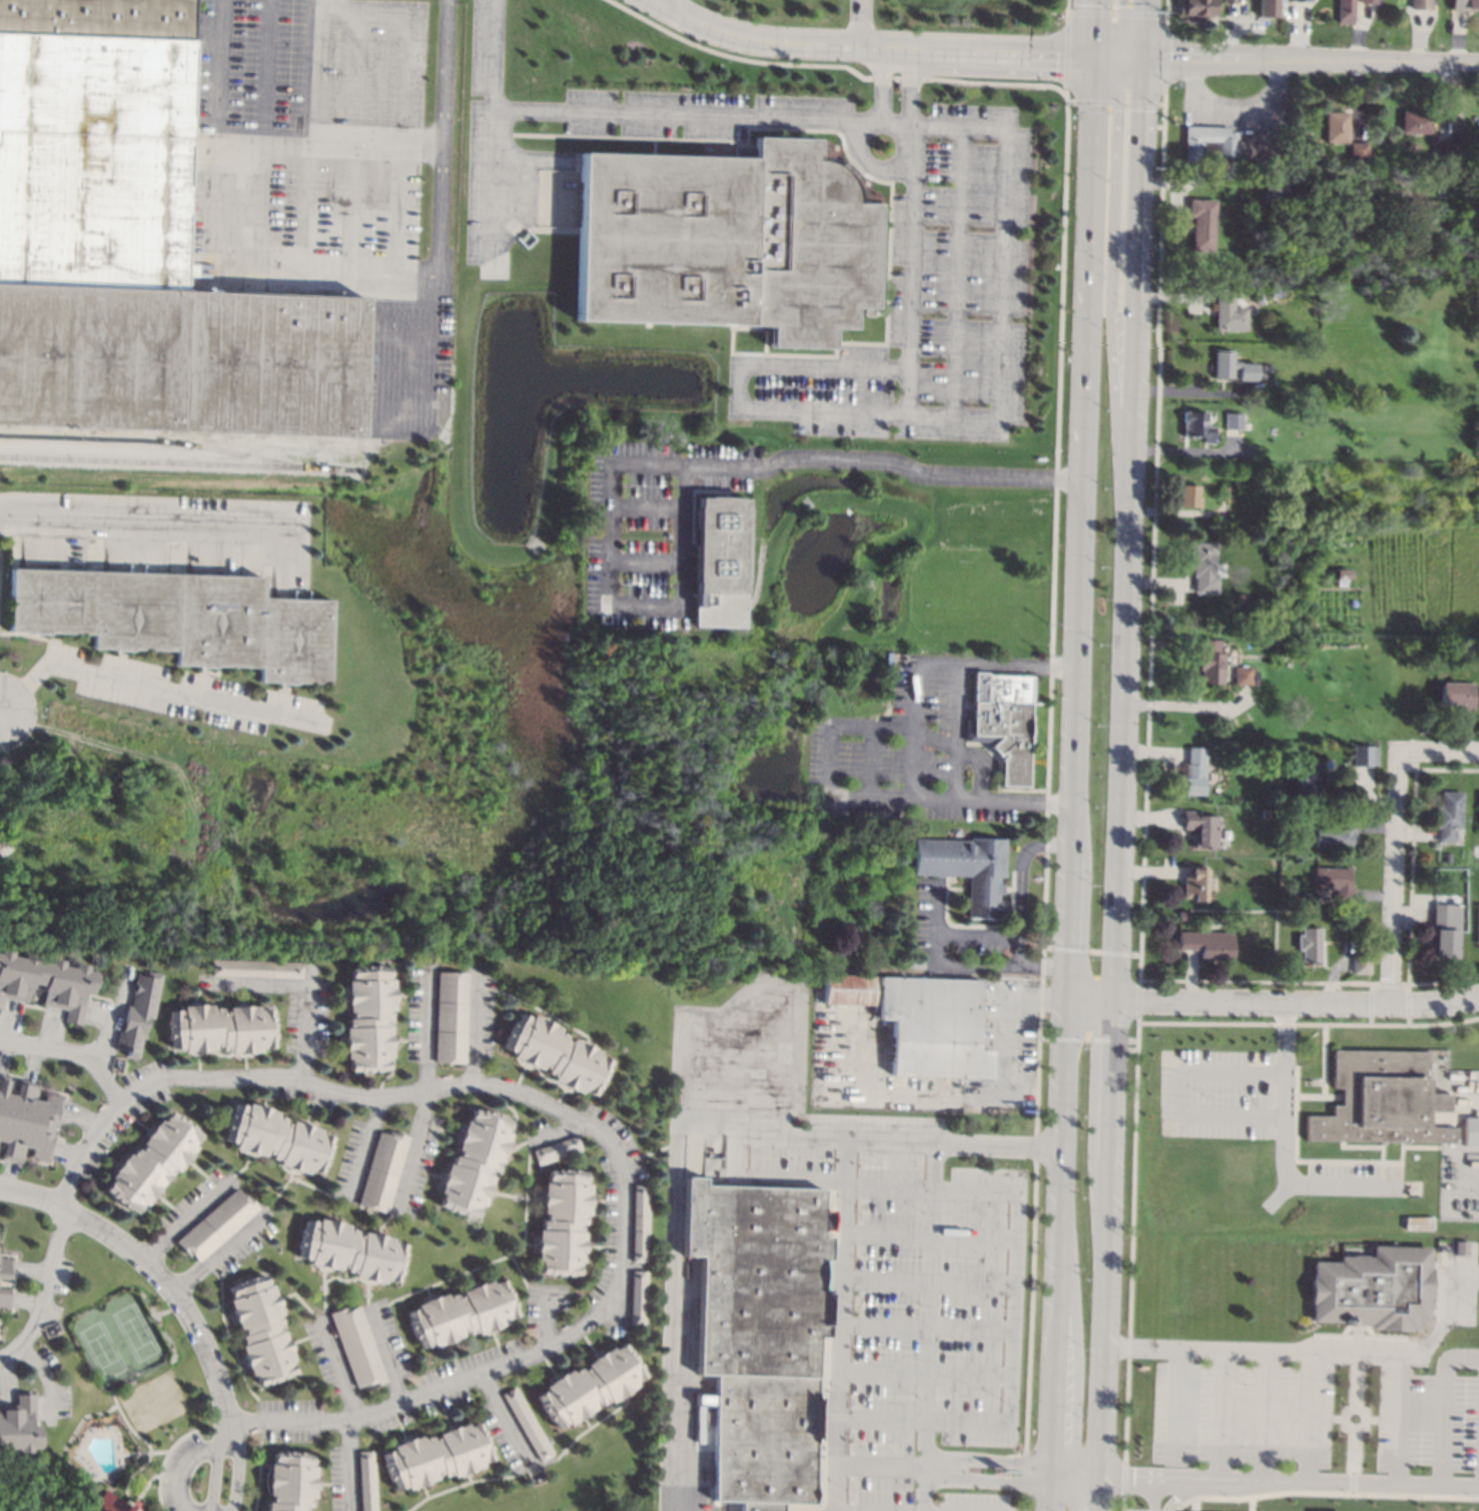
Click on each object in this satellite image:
building: (1301, 0)
road: (658, 1)
building: (1230, 1)
building: (1368, 1)
traffic signals: (1097, 4)
building: (1422, 4)
building: (1465, 5)
traffic signals: (1121, 6)
building: (1197, 7)
road: (1067, 8)
building: (1269, 8)
building: (1346, 11)
road: (1068, 12)
road: (1115, 13)
road: (1165, 18)
road: (862, 22)
road: (1096, 27)
road: (1144, 28)
road: (1126, 30)
road: (869, 45)
road: (1066, 52)
traffic signals: (1057, 53)
road: (1119, 55)
road: (735, 56)
traffic signals: (1169, 56)
road: (1164, 58)
road: (1311, 58)
road: (217, 70)
road: (442, 75)
road: (898, 78)
road: (997, 83)
road: (883, 85)
road: (914, 86)
road: (1164, 100)
road: (1104, 102)
road: (1235, 105)
traffic signals: (1117, 109)
traffic signals: (1142, 111)
parking lot: (698, 113)
road: (696, 118)
parking lot: (1231, 122)
building: (1416, 122)
building: (1337, 127)
parking lot: (488, 139)
building: (1211, 140)
road: (326, 145)
building: (1442, 149)
building: (1359, 152)
road: (870, 164)
building: (1446, 165)
road: (495, 183)
building: (1283, 192)
building: (1203, 223)
building: (726, 241)
building: (137, 248)
road: (1089, 256)
road: (959, 269)
road: (1110, 286)
building: (1276, 292)
building: (1256, 298)
parking lot: (929, 302)
building: (1228, 313)
road: (1002, 315)
building: (1232, 366)
building: (1268, 367)
road: (1187, 391)
road: (861, 408)
building: (1233, 421)
building: (1197, 426)
railway: (162, 441)
road: (338, 445)
road: (1185, 451)
railway: (178, 463)
road: (913, 471)
building: (1225, 494)
building: (1189, 496)
road: (646, 506)
road: (123, 510)
road: (610, 526)
road: (1127, 526)
parking lot: (657, 530)
road: (680, 535)
building: (1264, 536)
building: (720, 544)
road: (645, 563)
road: (1081, 563)
building: (1203, 568)
building: (179, 619)
building: (1468, 642)
building: (1211, 661)
road: (977, 664)
road: (915, 673)
building: (1242, 676)
building: (1253, 677)
road: (149, 688)
building: (1456, 694)
road: (1181, 706)
road: (1, 709)
building: (1006, 724)
parking lot: (909, 751)
road: (1439, 752)
building: (1363, 755)
road: (971, 756)
road: (871, 761)
road: (913, 763)
road: (1076, 764)
building: (1194, 771)
building: (1309, 782)
road: (871, 795)
building: (1267, 813)
building: (1448, 816)
building: (1478, 818)
building: (1201, 828)
building: (1336, 835)
building: (1285, 847)
building: (1476, 851)
building: (1447, 857)
building: (1285, 864)
building: (968, 869)
road: (1022, 874)
road: (1395, 877)
building: (1195, 882)
building: (1334, 882)
road: (939, 909)
building: (1184, 915)
building: (1477, 924)
road: (1072, 928)
building: (1446, 931)
building: (1207, 944)
building: (1309, 944)
road: (942, 962)
building: (1361, 963)
building: (256, 968)
building: (46, 983)
road: (304, 990)
building: (982, 994)
road: (1274, 1000)
road: (711, 1012)
building: (138, 1014)
building: (452, 1017)
building: (369, 1018)
building: (923, 1022)
road: (1308, 1023)
building: (221, 1029)
road: (474, 1029)
road: (790, 1029)
road: (426, 1032)
road: (74, 1049)
building: (556, 1054)
road: (1180, 1092)
building: (1381, 1100)
road: (1468, 1104)
building: (25, 1121)
road: (591, 1122)
building: (1471, 1131)
road: (684, 1133)
building: (278, 1138)
road: (1280, 1144)
road: (365, 1147)
road: (413, 1149)
building: (557, 1150)
road: (651, 1151)
road: (1065, 1156)
building: (152, 1162)
building: (474, 1163)
building: (383, 1171)
road: (769, 1175)
parking lot: (1390, 1190)
road: (184, 1220)
building: (563, 1222)
building: (641, 1223)
building: (217, 1225)
road: (928, 1236)
parking lot: (875, 1242)
building: (1462, 1249)
building: (351, 1250)
road: (219, 1252)
road: (1108, 1254)
road: (1129, 1254)
building: (5, 1268)
road: (926, 1281)
building: (1372, 1289)
road: (46, 1291)
building: (639, 1297)
building: (4, 1298)
road: (182, 1302)
road: (1013, 1308)
road: (1444, 1309)
building: (462, 1313)
road: (547, 1322)
road: (838, 1325)
road: (926, 1325)
road: (928, 1326)
building: (261, 1330)
building: (760, 1334)
park: (118, 1342)
building: (358, 1347)
road: (1320, 1347)
park: (1298, 1349)
road: (386, 1357)
road: (1355, 1367)
road: (339, 1369)
road: (924, 1374)
building: (590, 1385)
road: (1058, 1387)
road: (1443, 1404)
road: (1178, 1406)
road: (1308, 1413)
road: (1222, 1414)
parking lot: (1319, 1415)
road: (1265, 1416)
road: (1337, 1418)
road: (1371, 1419)
road: (506, 1420)
building: (528, 1424)
building: (19, 1426)
road: (1363, 1427)
building: (436, 1456)
road: (991, 1457)
road: (1352, 1459)
road: (1079, 1461)
road: (349, 1464)
road: (880, 1464)
road: (189, 1466)
road: (1055, 1471)
road: (1290, 1479)
building: (367, 1480)
road: (990, 1480)
building: (291, 1482)
road: (1078, 1484)
road: (1181, 1492)
road: (1324, 1492)
road: (1151, 1493)
road: (1054, 1497)
building: (111, 1503)
road: (1193, 1504)
road: (1249, 1504)
road: (848, 1510)
road: (1134, 1510)

